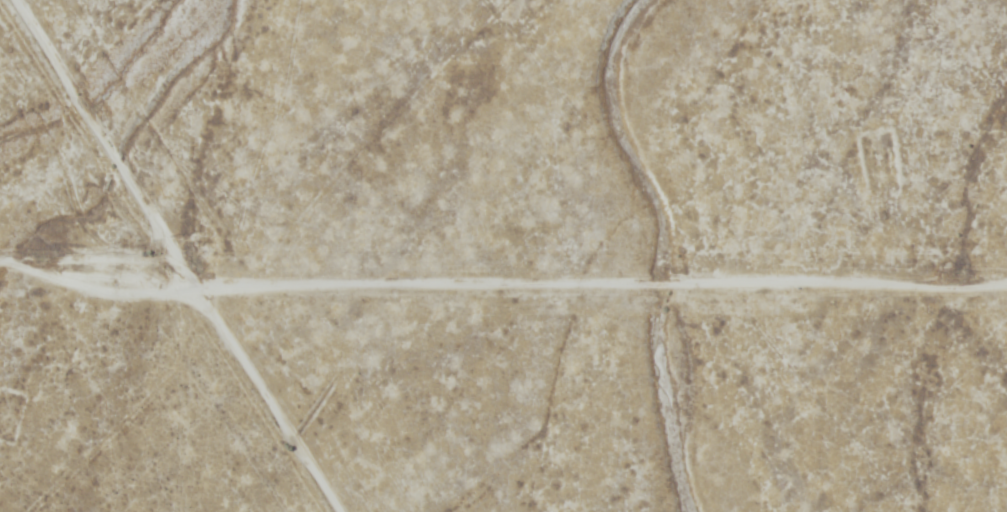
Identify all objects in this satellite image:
road: (158, 265)

